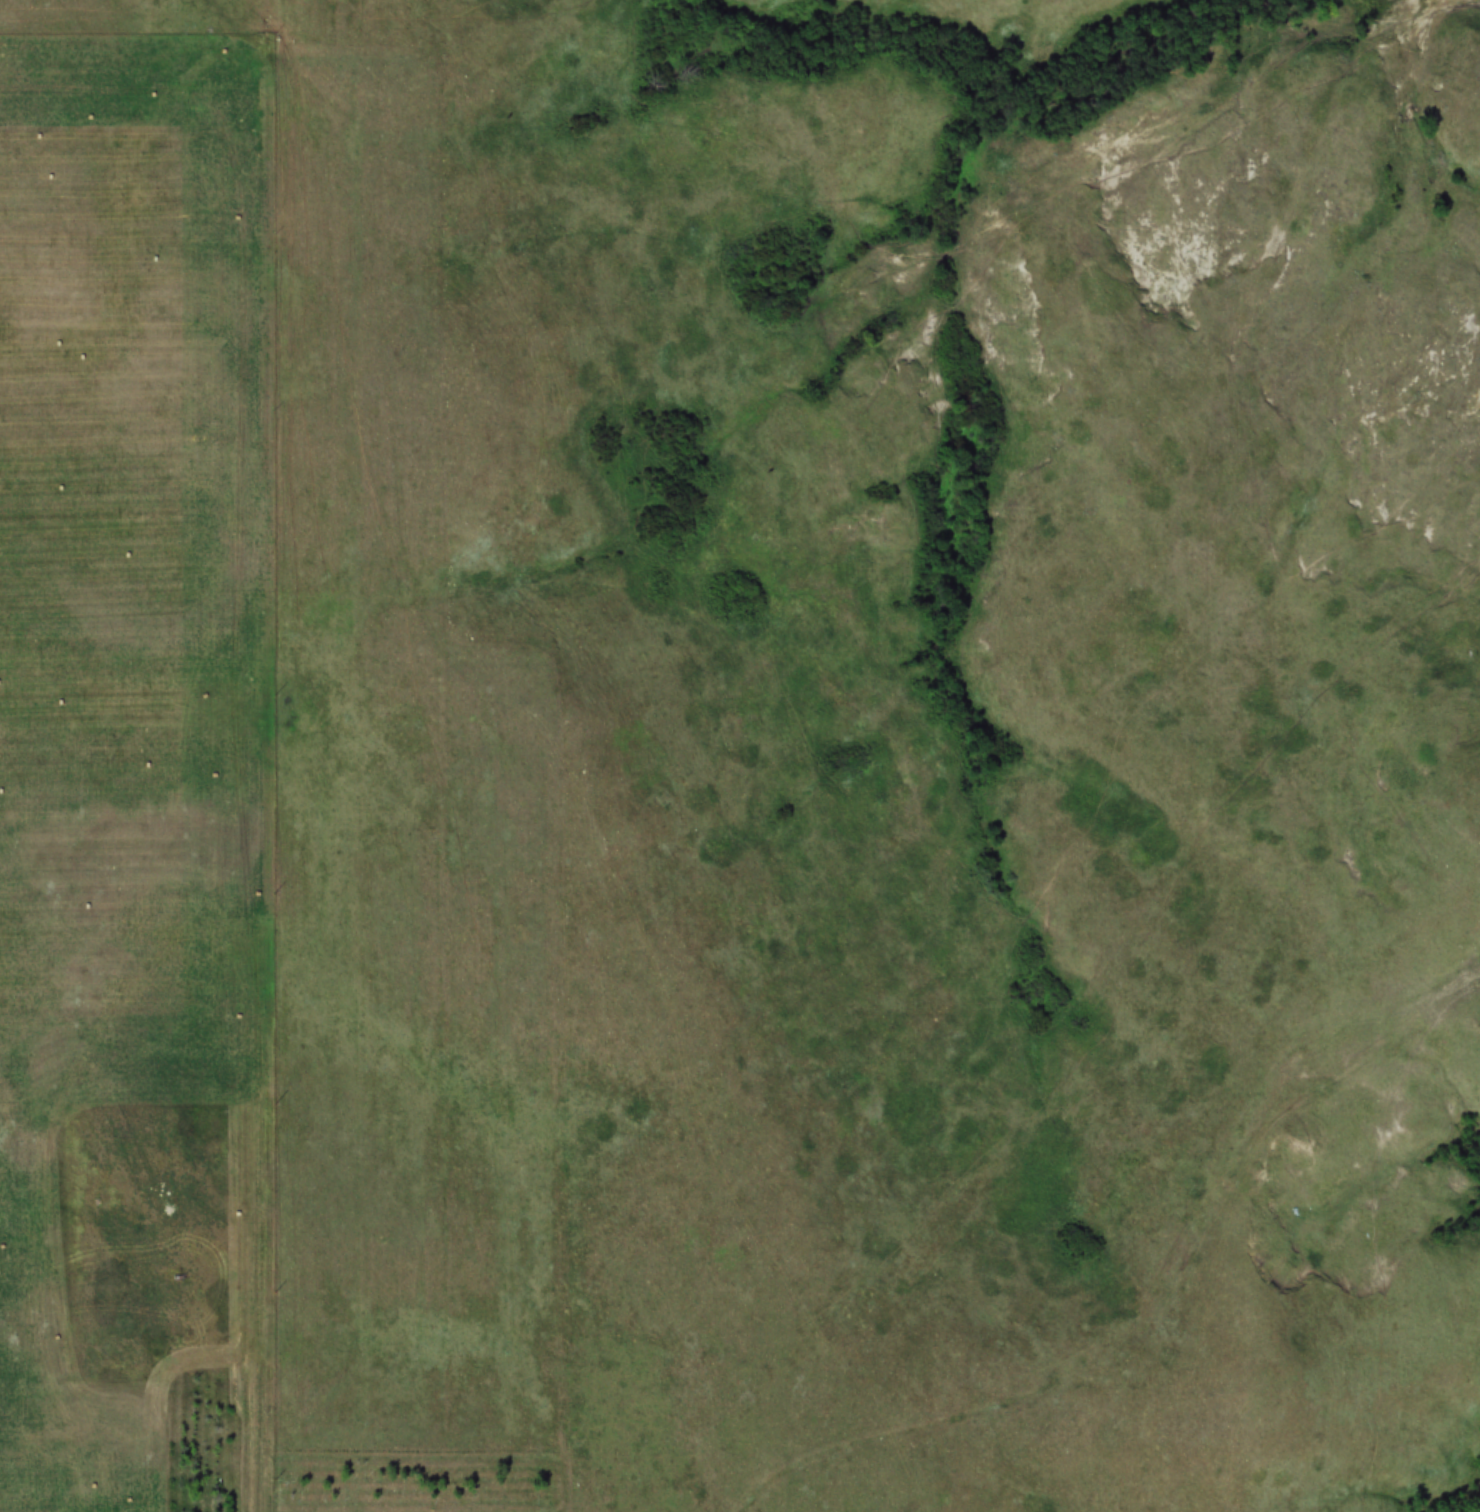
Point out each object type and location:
road: (253, 869)
road: (1145, 1302)

